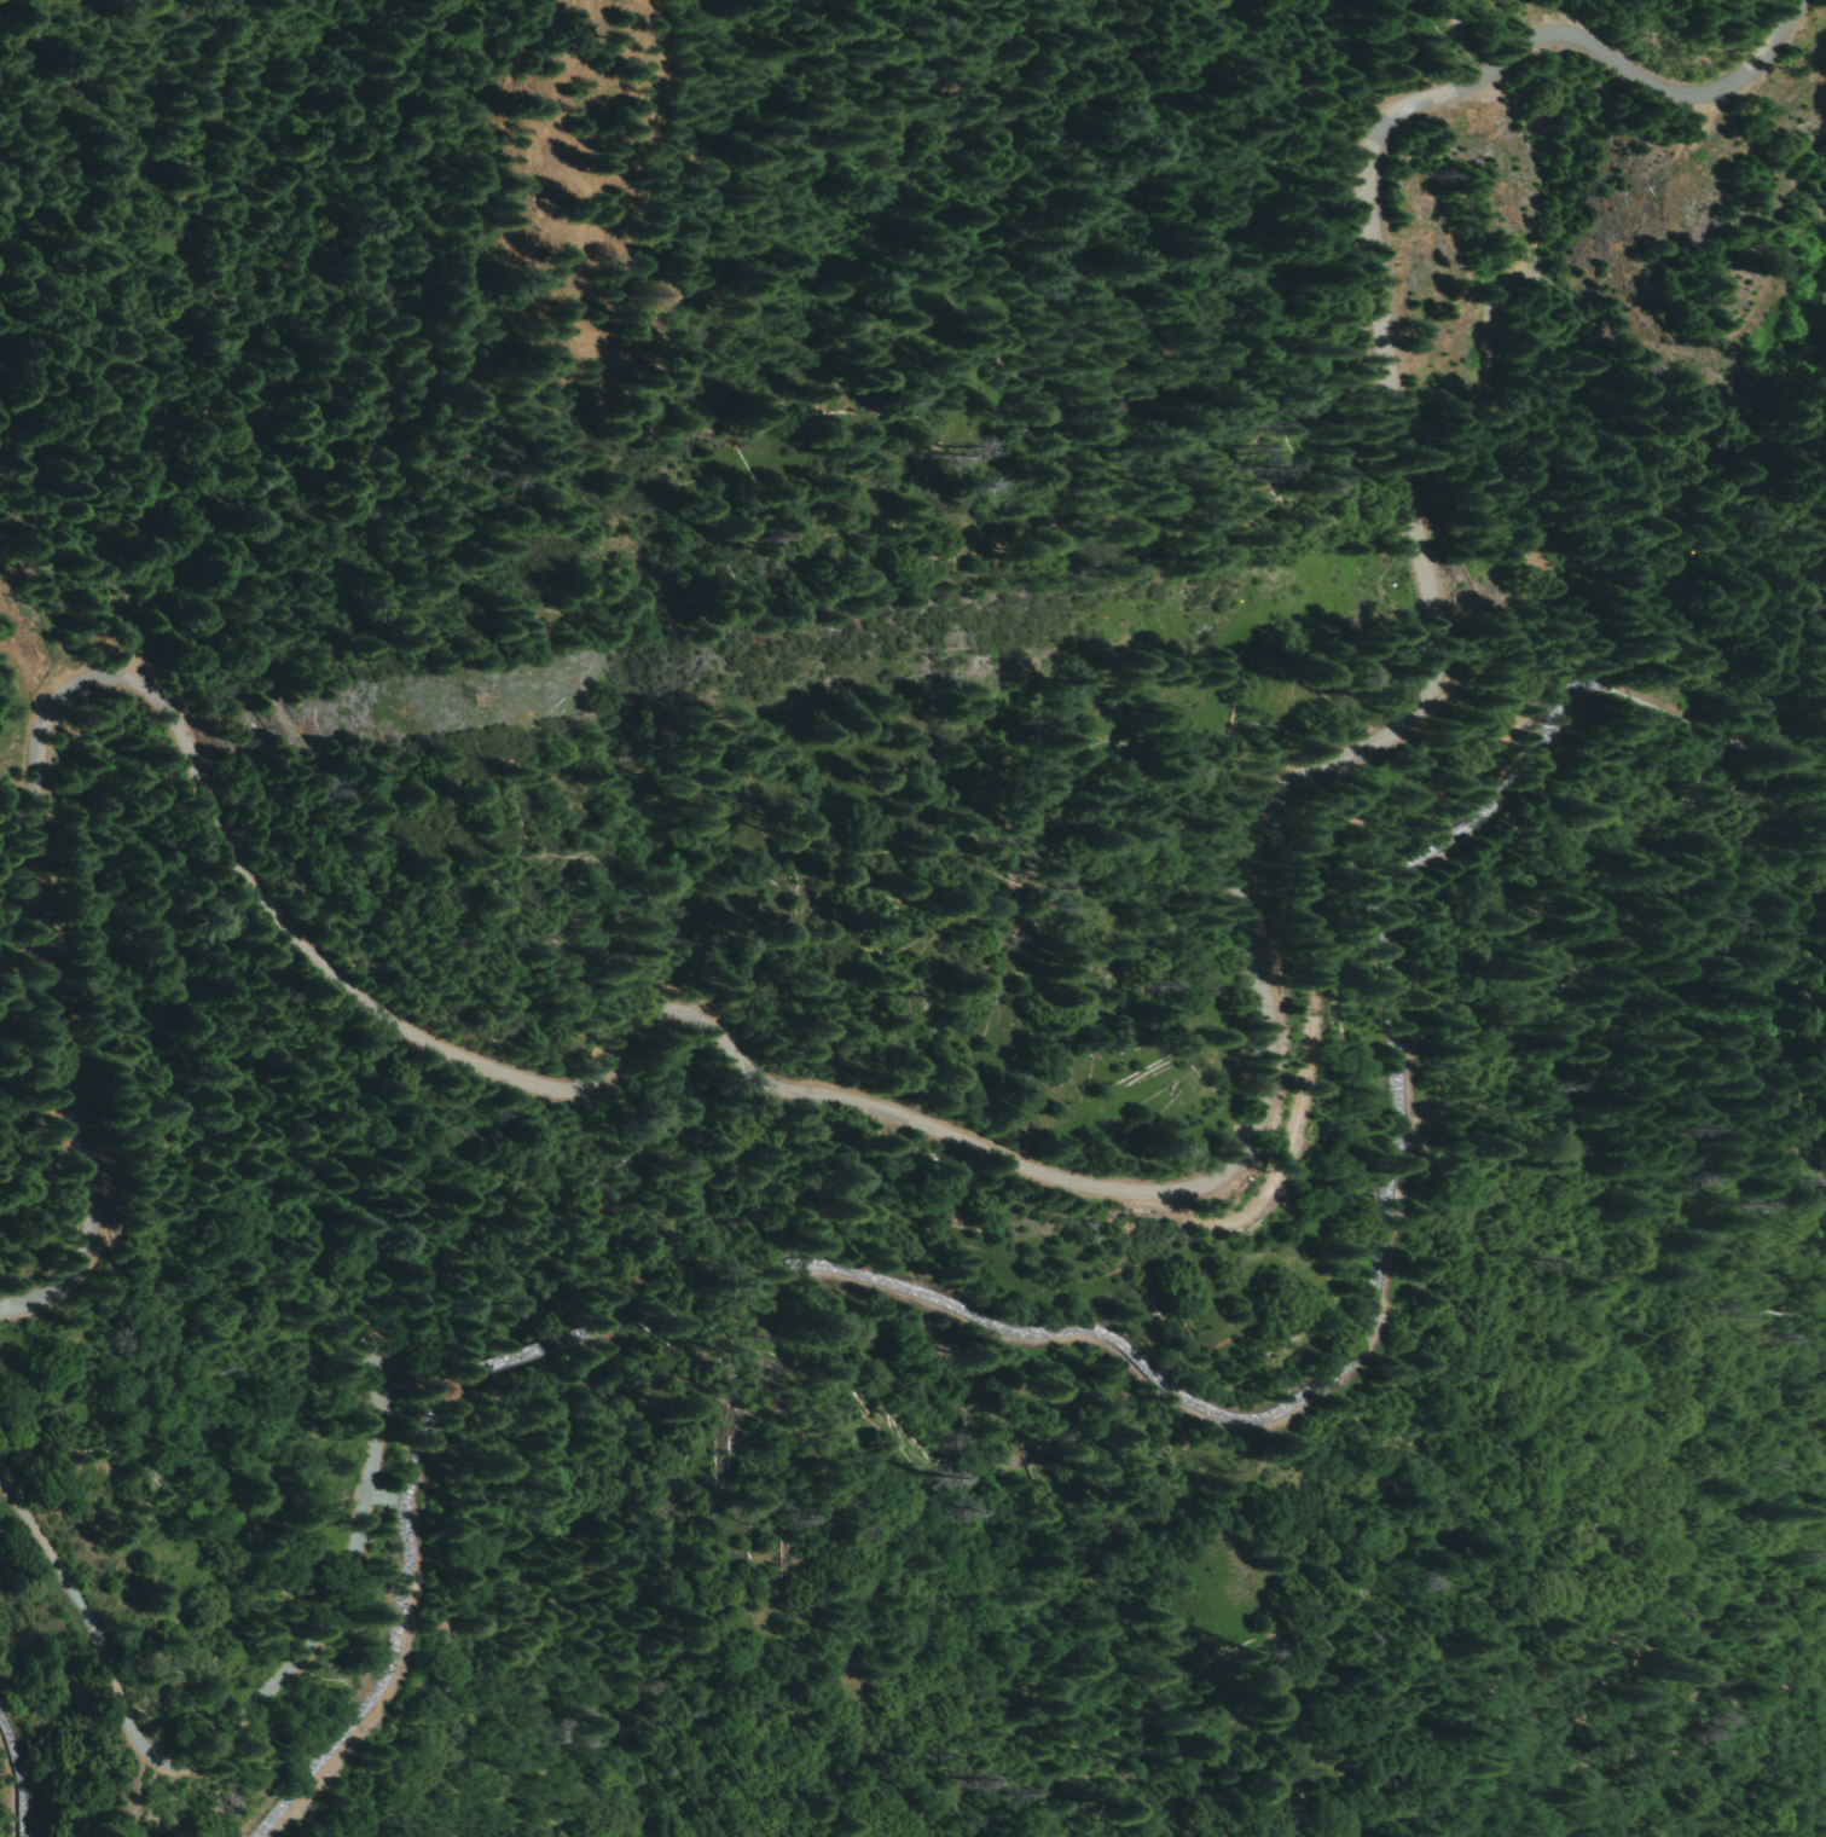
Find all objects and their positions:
power tower: (952, 645)
power tower: (482, 703)
road: (924, 1143)

